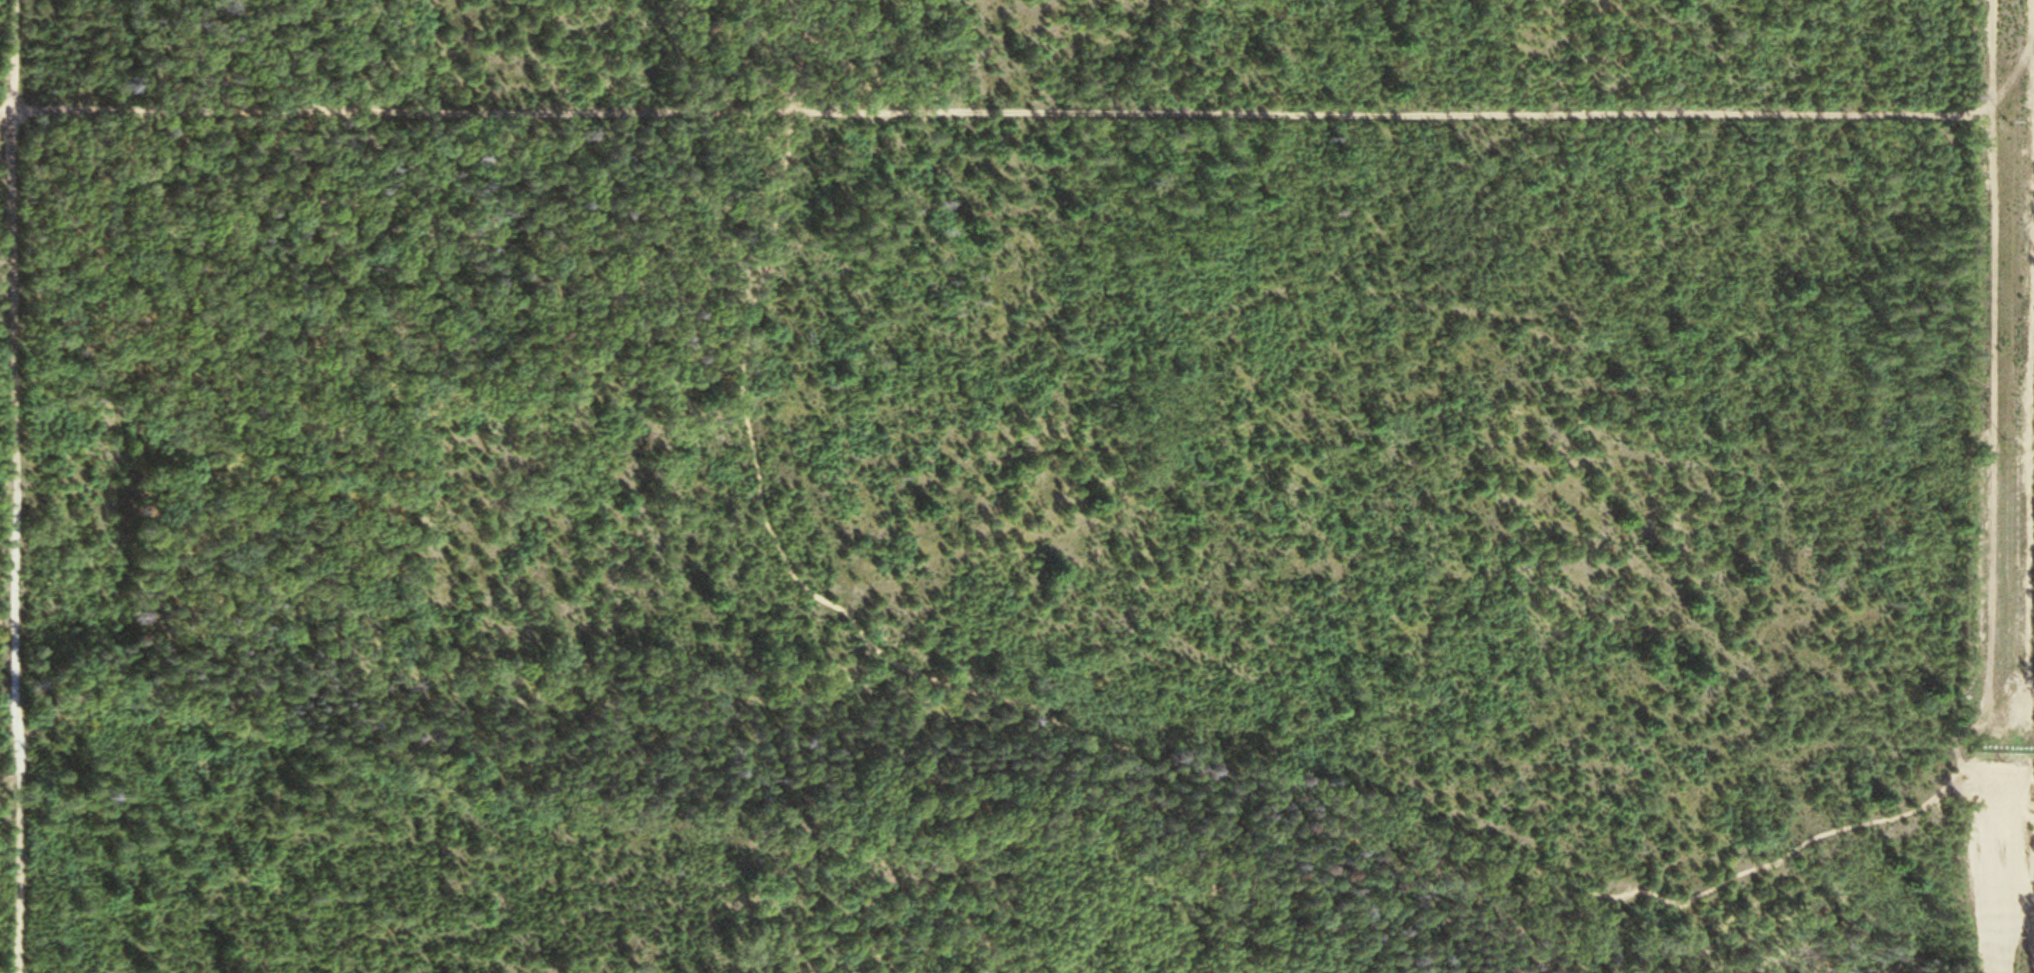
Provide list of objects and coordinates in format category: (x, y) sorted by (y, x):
road: (1424, 104)
road: (1142, 759)
road: (2021, 931)
road: (1542, 957)

